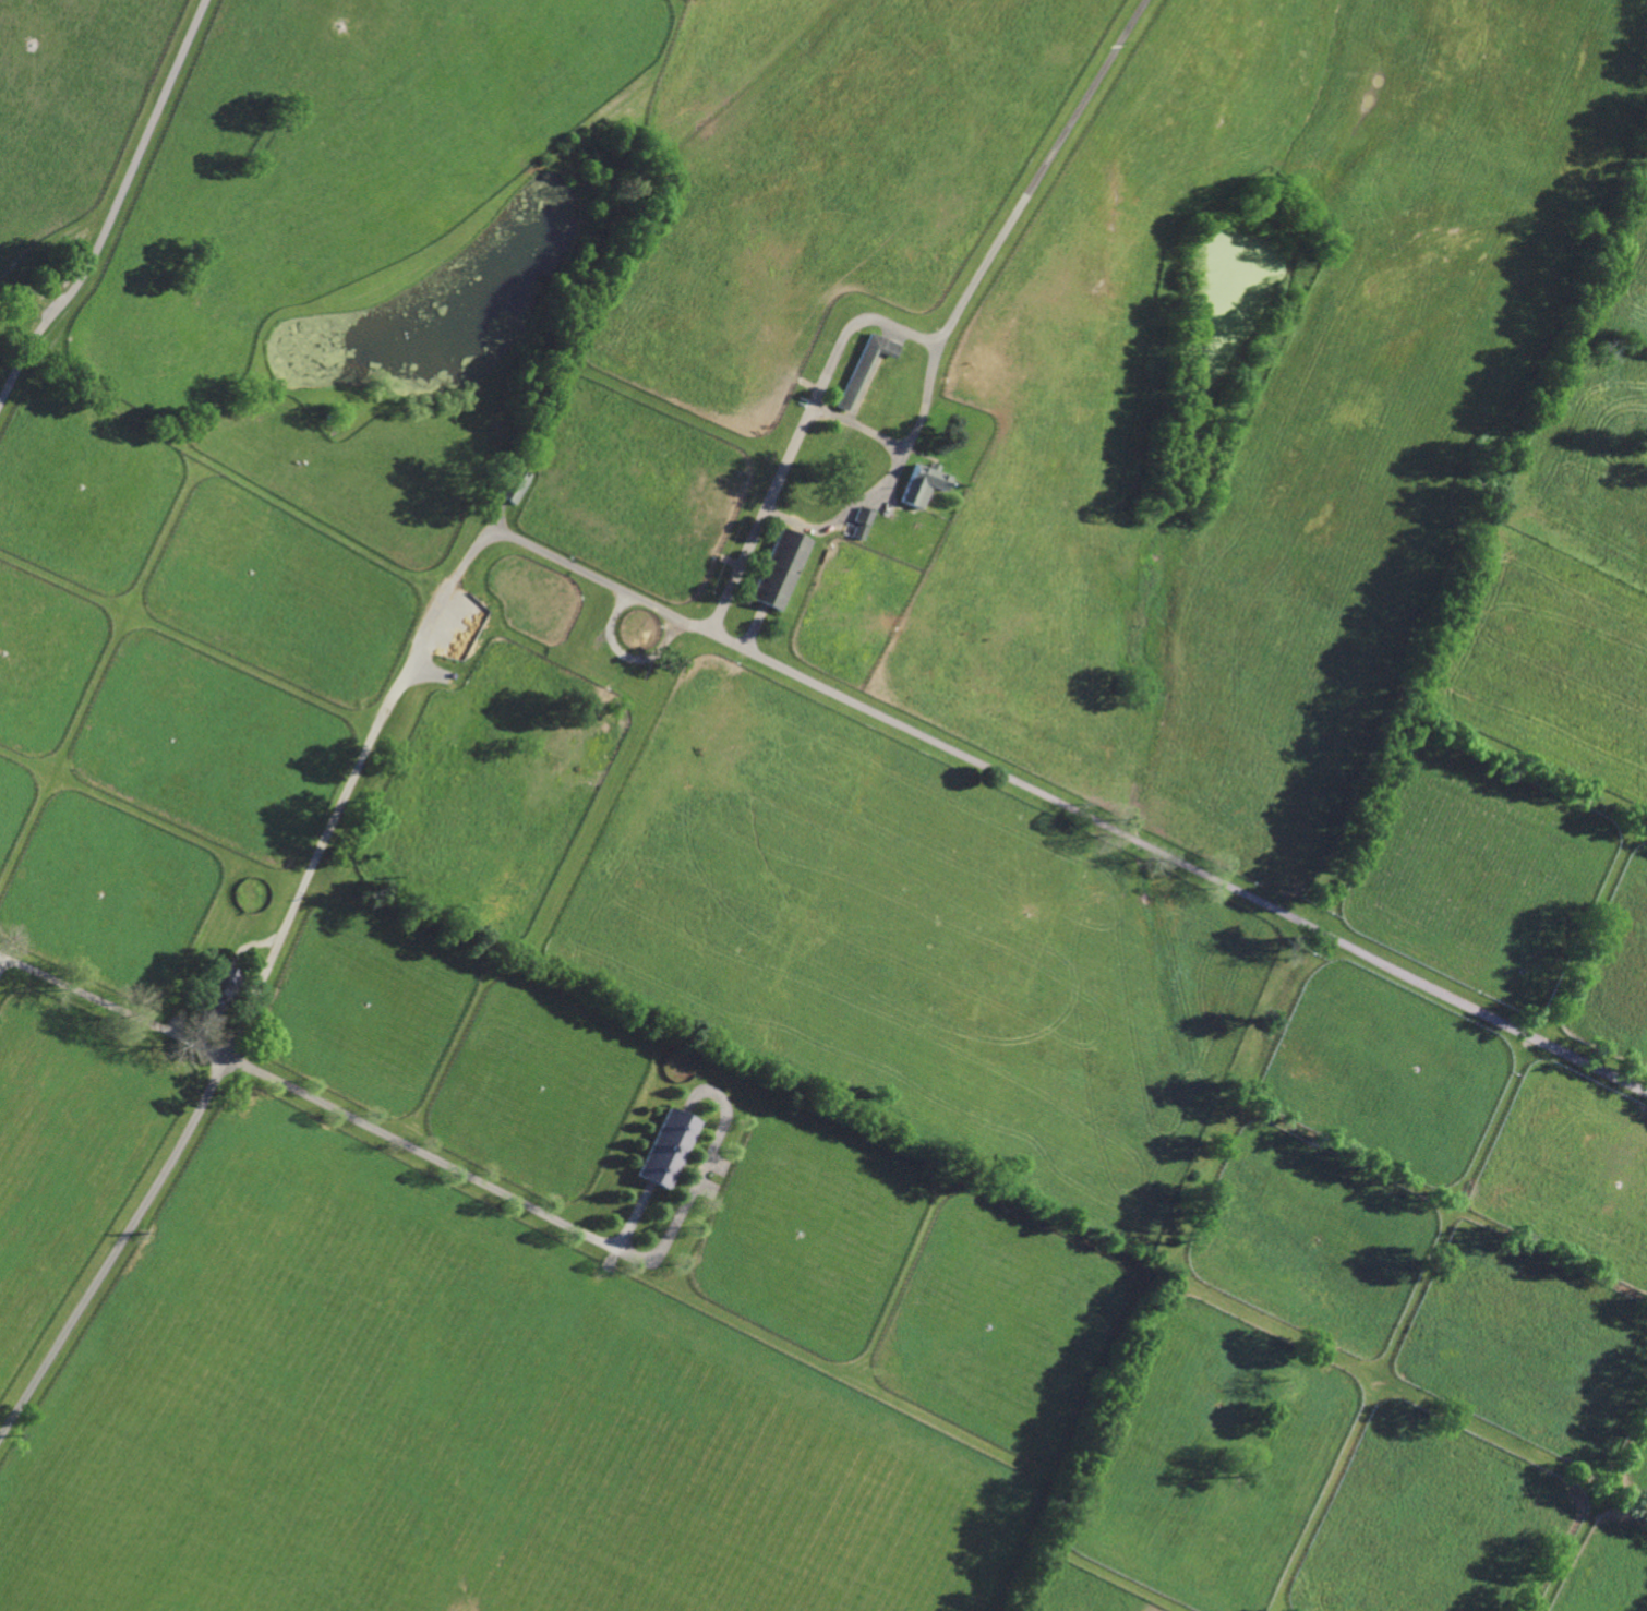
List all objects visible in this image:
road: (115, 206)
road: (934, 351)
building: (864, 368)
road: (823, 376)
road: (856, 428)
building: (921, 484)
building: (510, 486)
road: (495, 518)
building: (861, 522)
building: (779, 568)
road: (606, 581)
road: (624, 656)
road: (1, 961)
building: (215, 990)
building: (179, 1003)
road: (112, 1006)
building: (171, 1013)
building: (666, 1147)
road: (444, 1163)
road: (696, 1177)

